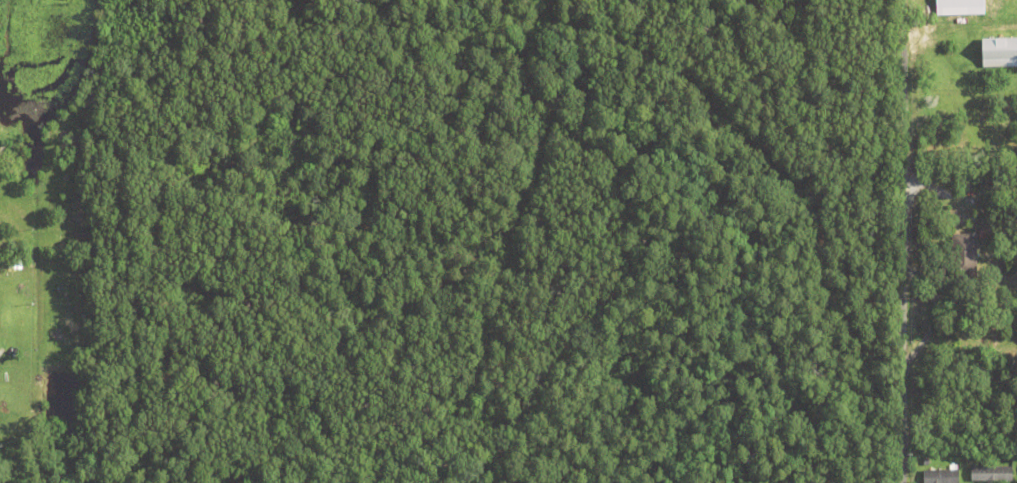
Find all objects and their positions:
building: (955, 7)
building: (996, 52)
building: (955, 179)
building: (966, 185)
building: (982, 185)
road: (903, 241)
building: (964, 256)
building: (1013, 371)
building: (991, 474)
building: (941, 476)

